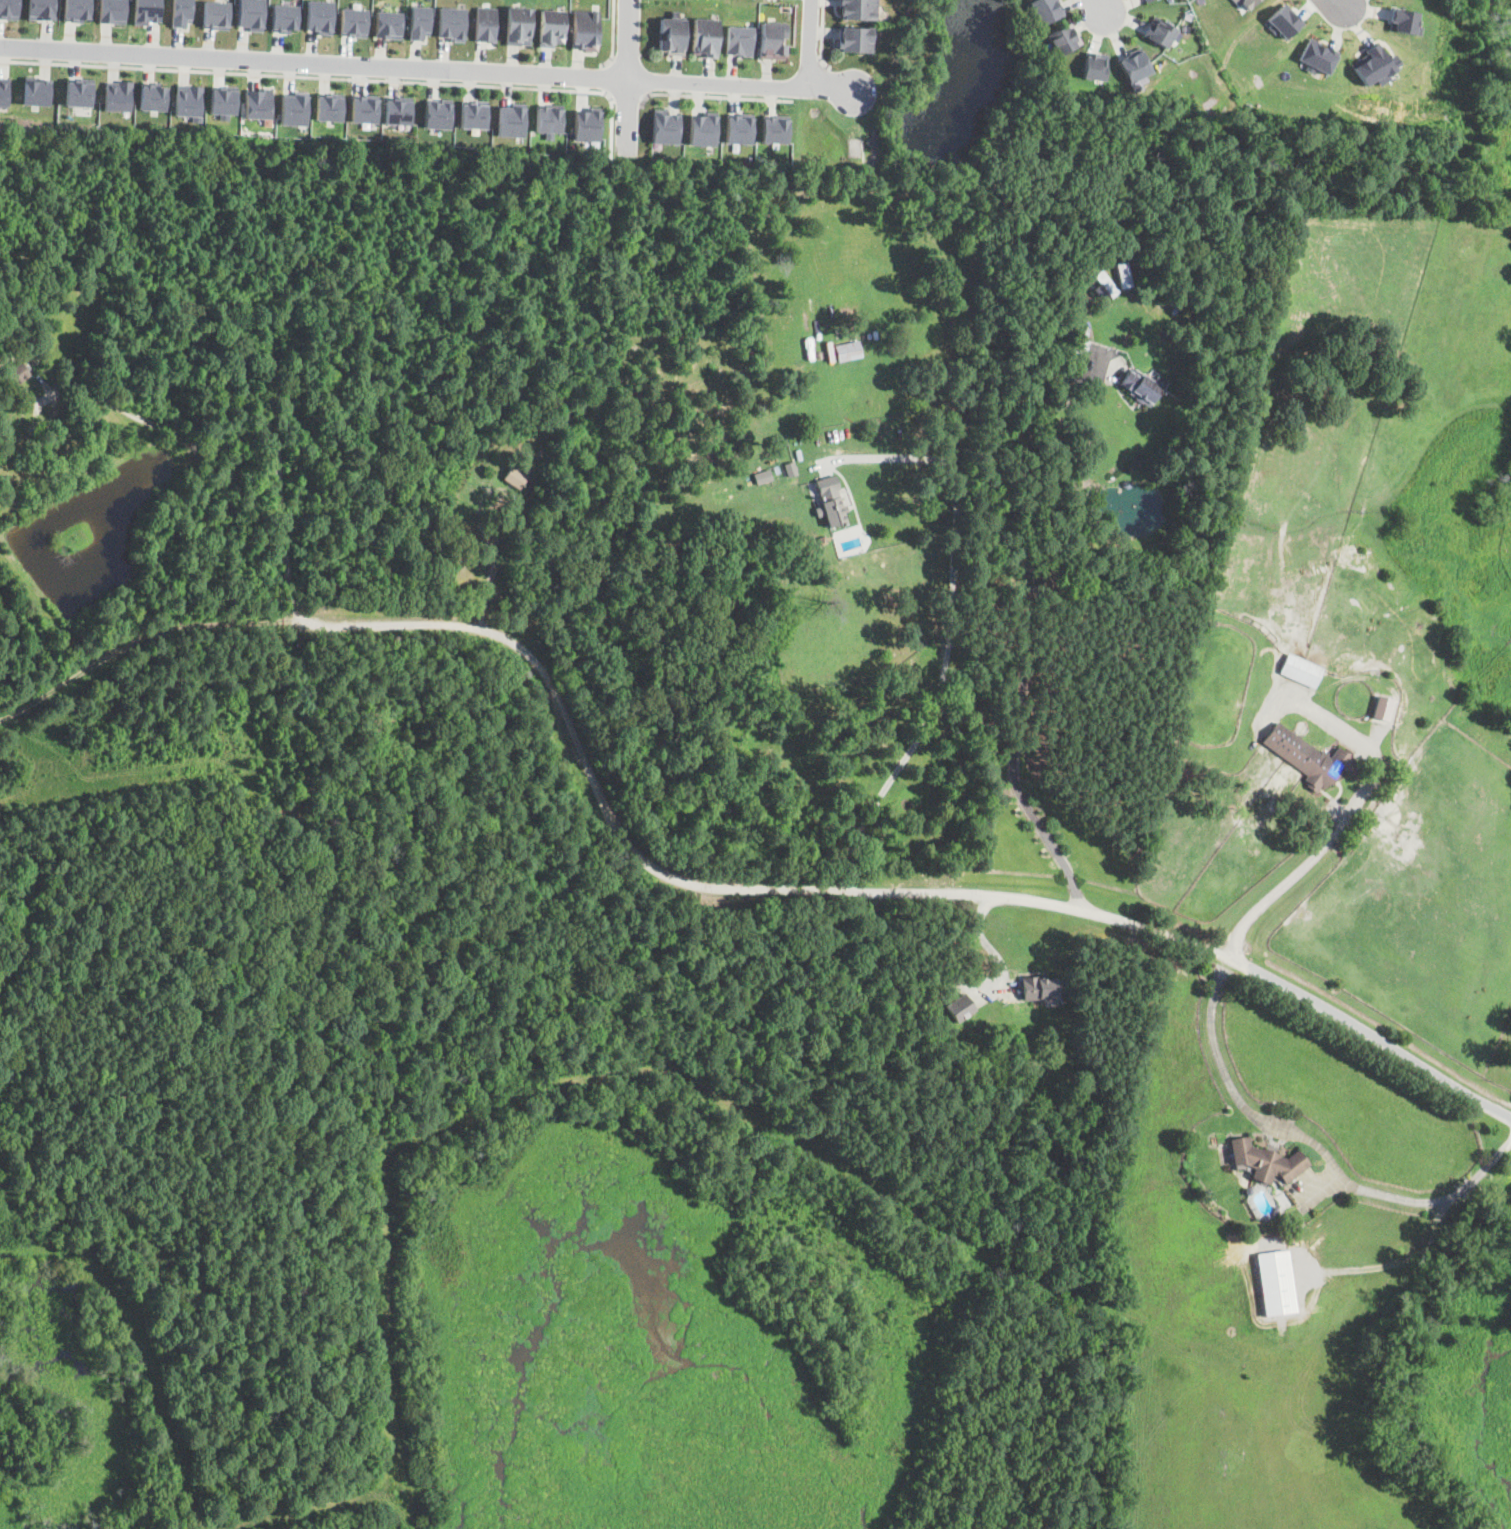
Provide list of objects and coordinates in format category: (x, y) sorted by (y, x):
building: (1147, 0)
building: (1245, 3)
road: (1100, 6)
building: (42, 8)
building: (10, 9)
building: (858, 9)
building: (77, 10)
building: (1046, 10)
building: (111, 11)
building: (146, 11)
building: (180, 12)
building: (216, 14)
building: (250, 14)
building: (320, 16)
building: (284, 17)
building: (1284, 21)
building: (1404, 21)
building: (354, 22)
building: (420, 22)
building: (452, 23)
building: (388, 24)
building: (485, 24)
building: (518, 25)
building: (551, 27)
building: (585, 29)
building: (1160, 31)
building: (673, 34)
road: (614, 36)
building: (705, 36)
road: (823, 36)
building: (773, 39)
building: (855, 39)
building: (1064, 39)
building: (740, 40)
road: (810, 43)
building: (1318, 56)
building: (1134, 64)
building: (1095, 65)
building: (1375, 65)
road: (427, 68)
road: (337, 78)
road: (628, 78)
road: (607, 80)
road: (810, 83)
building: (5, 91)
building: (37, 91)
building: (79, 93)
building: (118, 95)
building: (152, 96)
road: (714, 96)
building: (189, 101)
building: (223, 101)
building: (259, 103)
road: (628, 103)
building: (329, 106)
building: (294, 108)
building: (364, 108)
building: (398, 110)
building: (438, 113)
building: (473, 114)
building: (548, 119)
building: (511, 120)
building: (587, 124)
building: (665, 126)
building: (739, 128)
building: (703, 129)
building: (775, 129)
building: (658, 146)
building: (1124, 273)
building: (1107, 282)
building: (1101, 294)
building: (1158, 299)
building: (1090, 307)
building: (4, 330)
building: (1081, 346)
building: (847, 351)
building: (821, 356)
building: (19, 373)
building: (1142, 387)
building: (720, 406)
road: (263, 428)
building: (540, 451)
building: (790, 469)
building: (516, 476)
building: (762, 477)
building: (1126, 484)
building: (529, 493)
building: (829, 501)
road: (492, 570)
road: (306, 622)
road: (948, 629)
road: (1025, 630)
building: (1300, 671)
building: (1382, 707)
building: (1310, 758)
building: (311, 831)
road: (1282, 884)
road: (998, 895)
building: (1033, 988)
building: (1052, 988)
building: (960, 1006)
building: (1046, 1027)
building: (1019, 1092)
road: (1315, 1144)
building: (1266, 1162)
building: (1248, 1191)
building: (1275, 1211)
building: (1276, 1282)
building: (1365, 1401)

